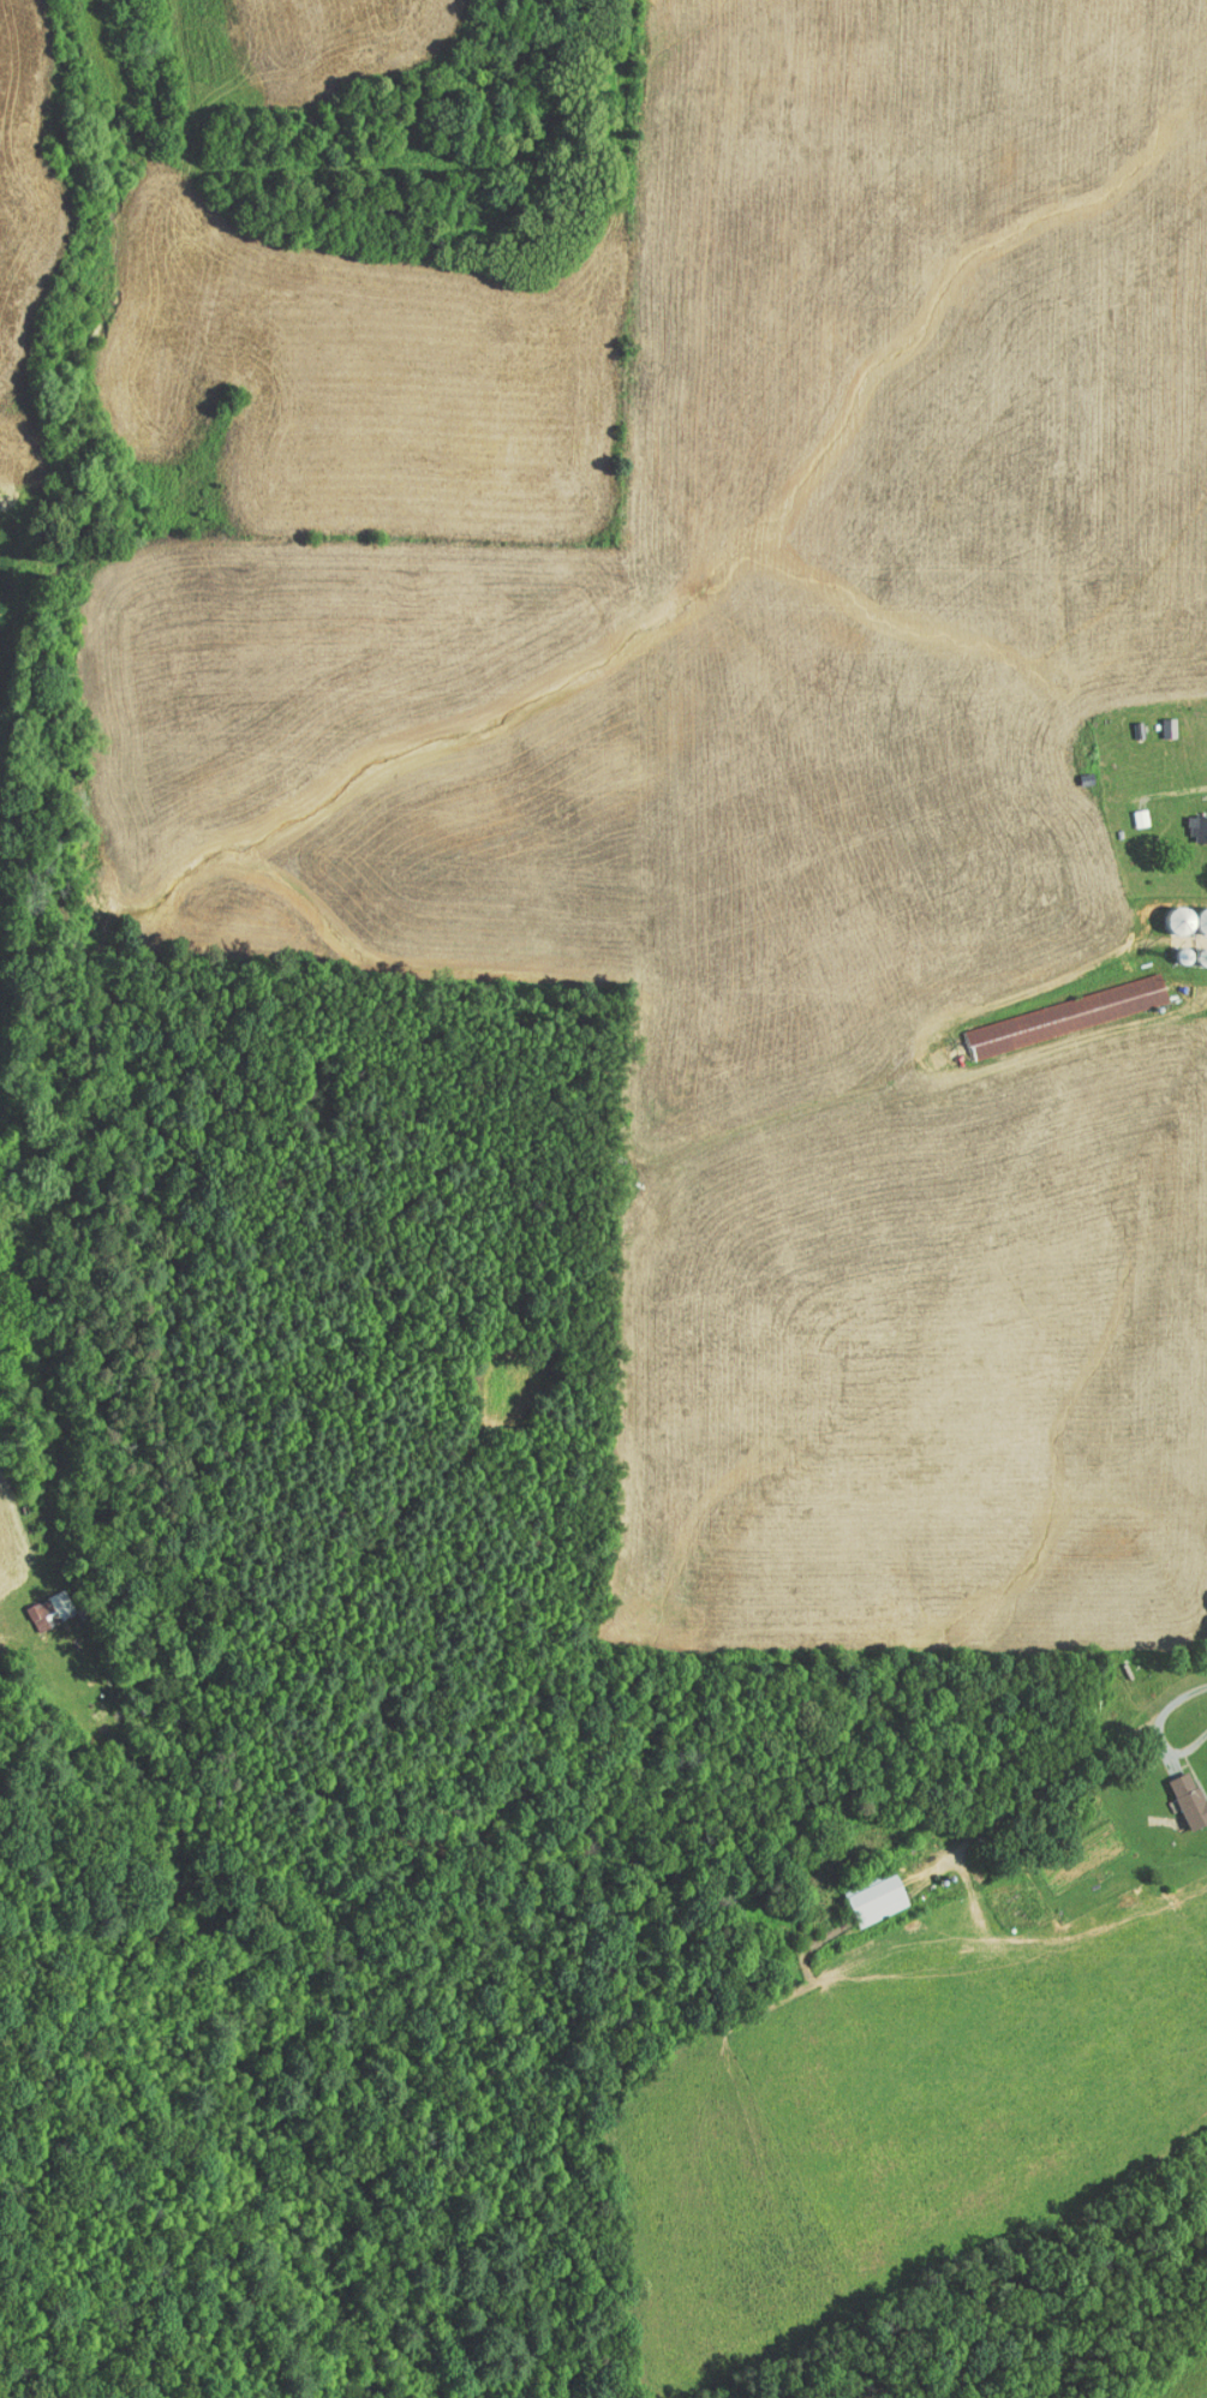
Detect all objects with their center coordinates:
building: (1129, 809)
building: (1193, 819)
building: (1182, 923)
building: (1053, 1007)
building: (38, 1598)
road: (1170, 1742)
road: (1066, 1754)
building: (1177, 1793)
building: (865, 1892)

